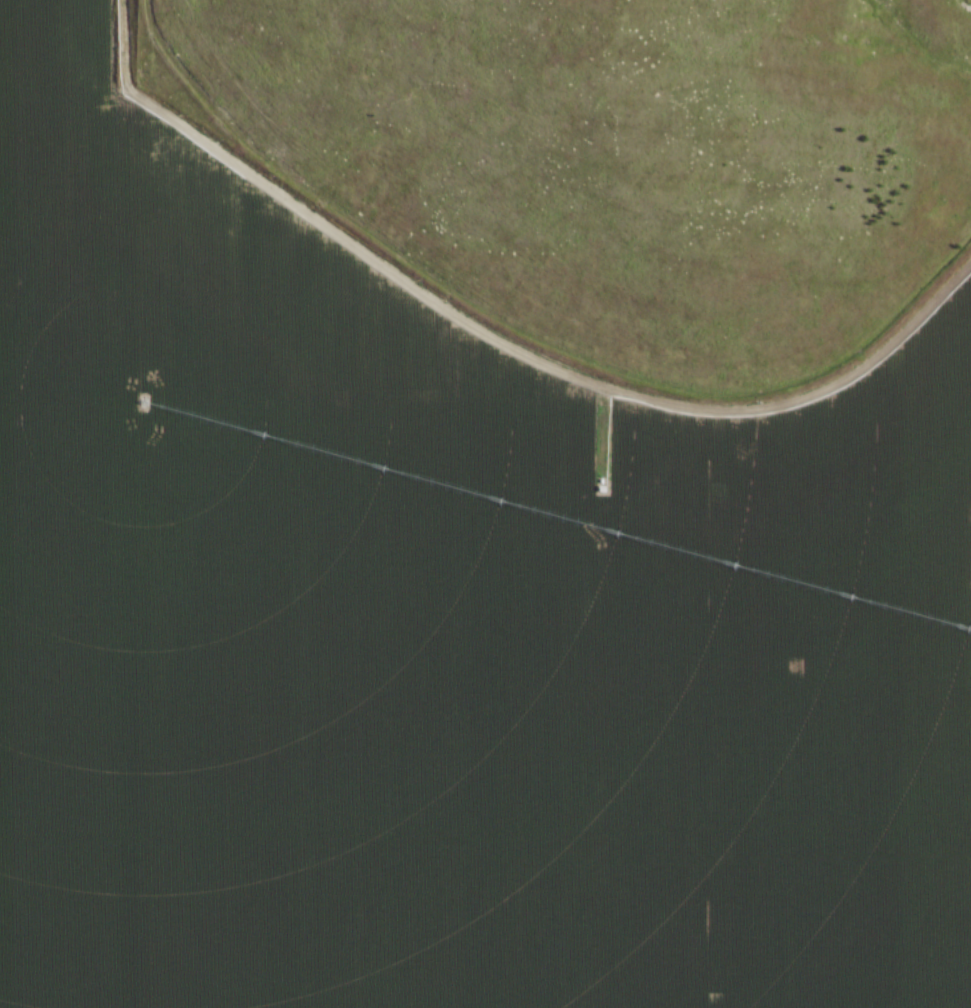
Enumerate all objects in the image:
crop: (441, 625)

